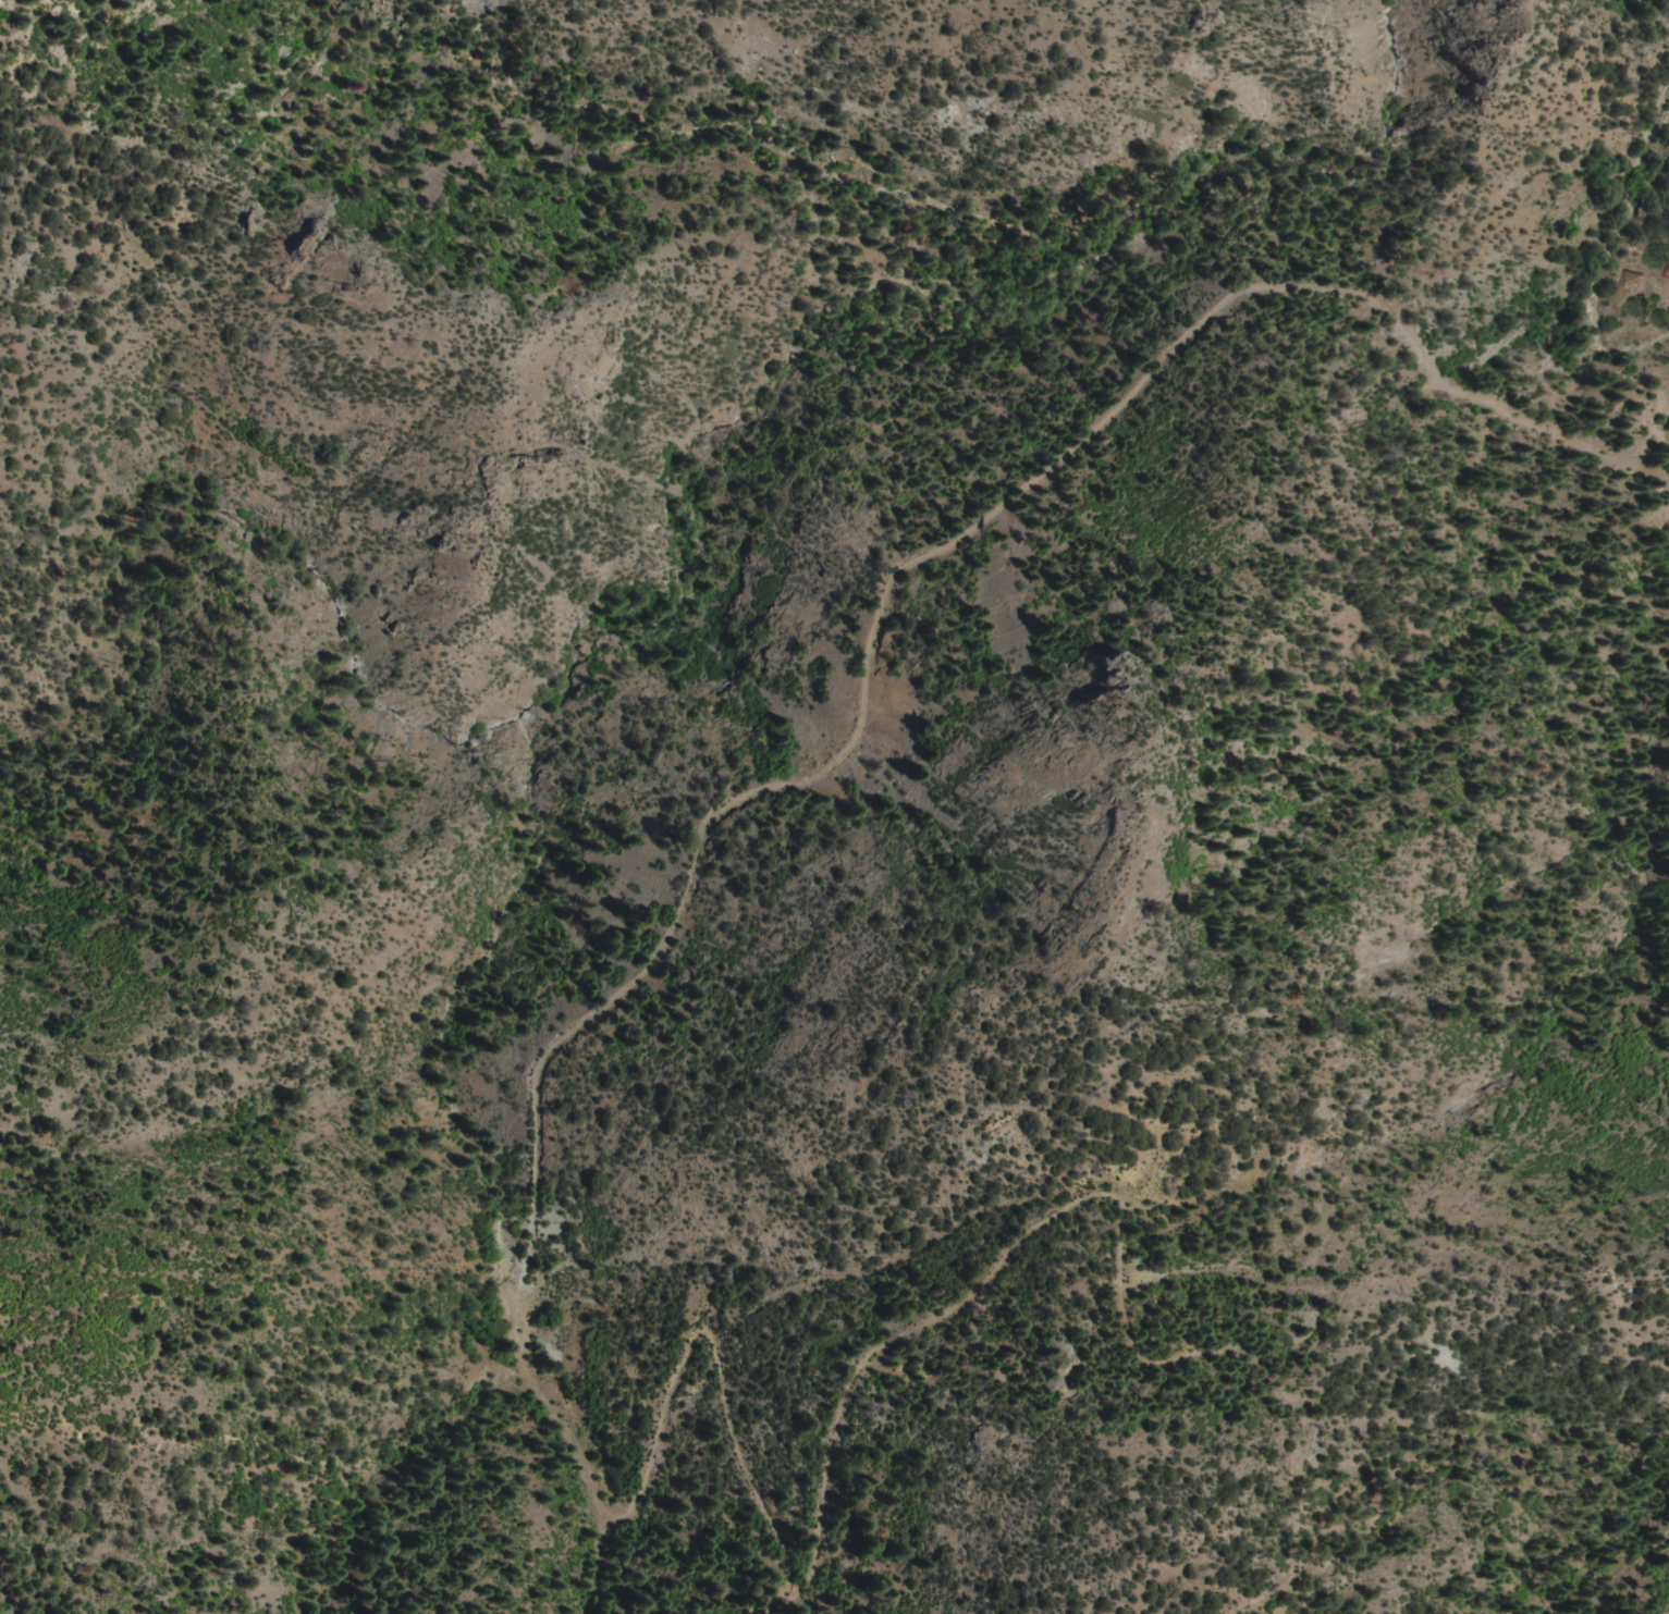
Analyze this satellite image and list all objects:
road: (942, 158)
building: (1664, 270)
building: (1628, 282)
road: (1664, 295)
road: (539, 1064)
road: (1276, 1389)

